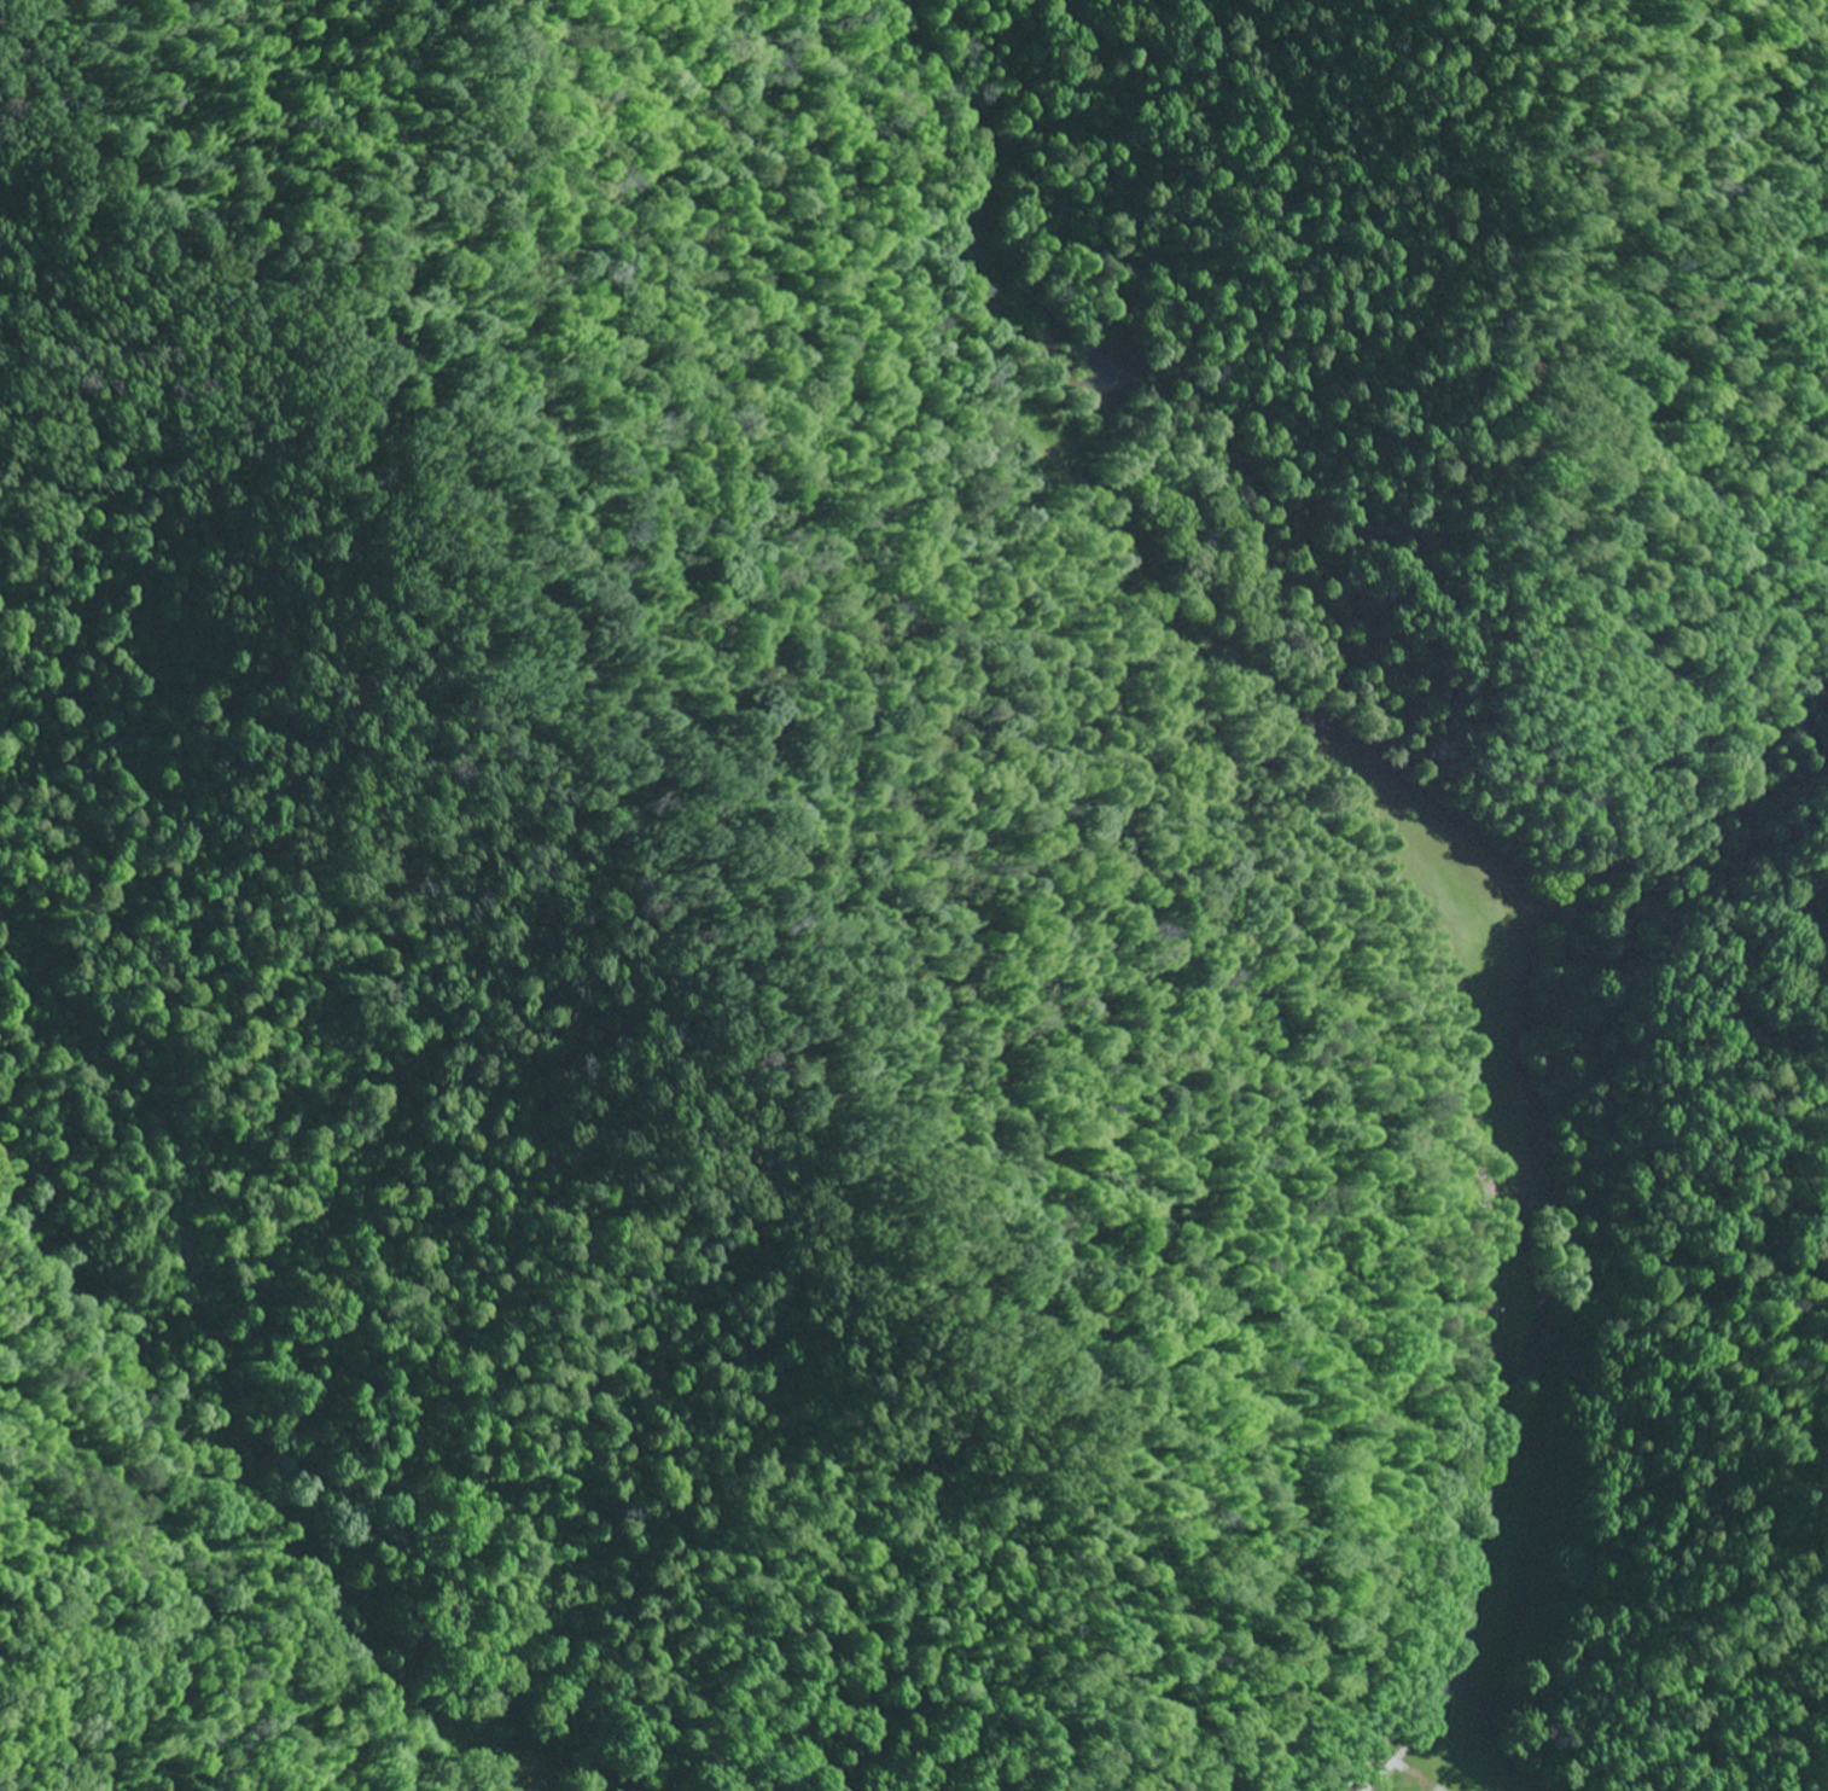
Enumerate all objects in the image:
road: (1559, 1312)

